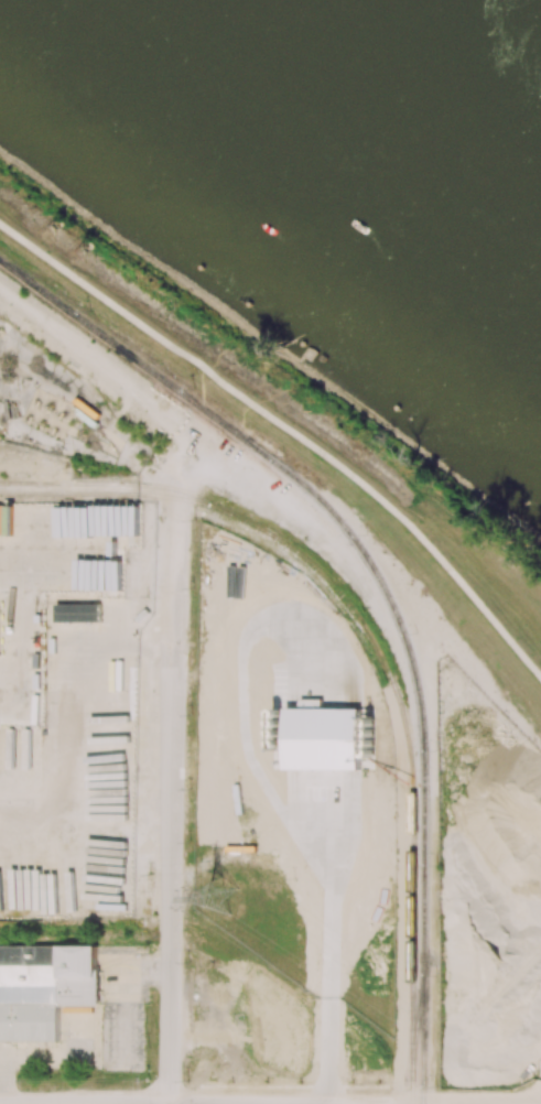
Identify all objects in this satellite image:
river: (388, 112)
road: (289, 427)
railway: (387, 593)
building: (77, 613)
road: (173, 810)
power tower: (221, 901)
road: (329, 909)
railway: (413, 963)
building: (44, 987)

